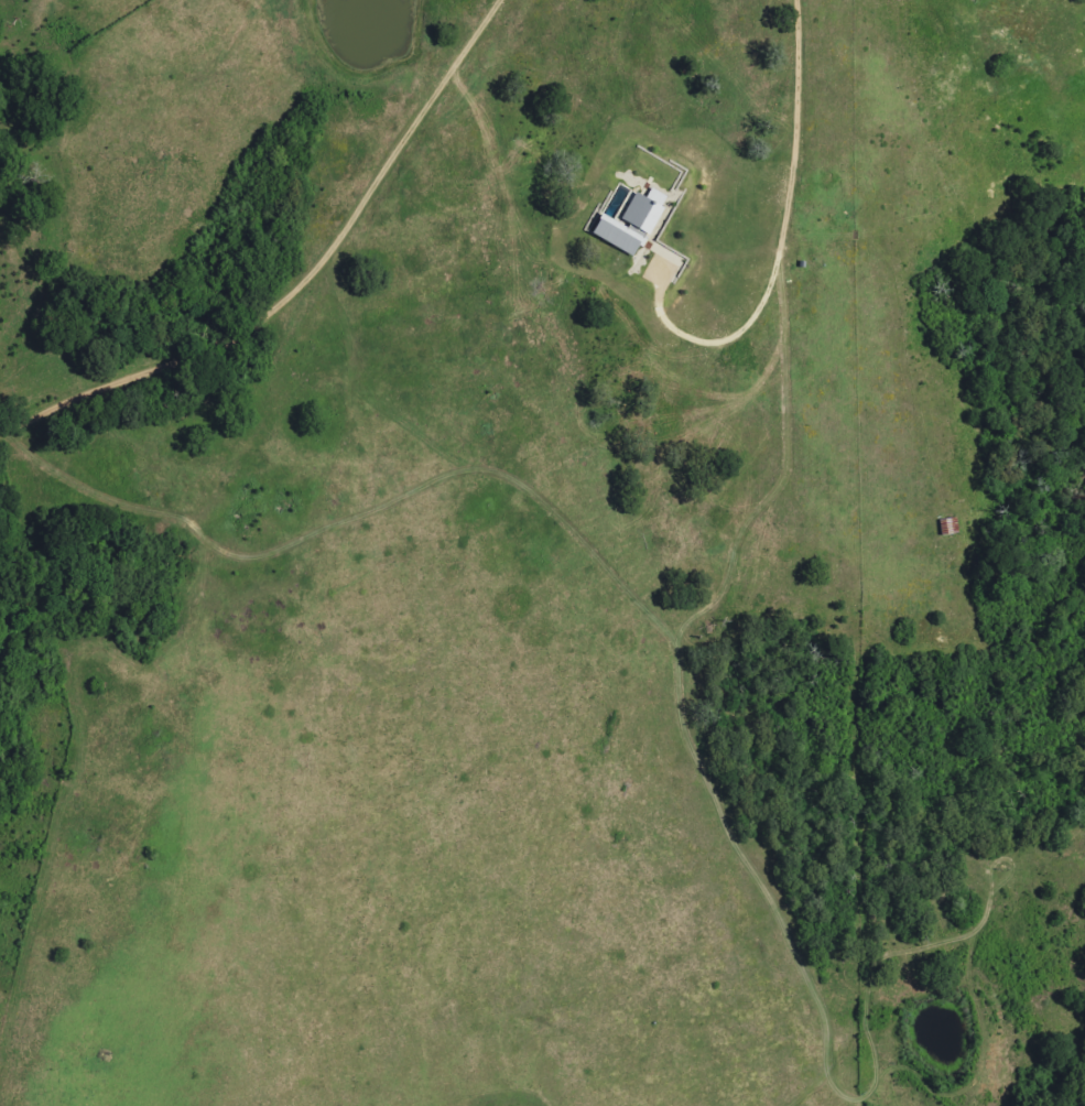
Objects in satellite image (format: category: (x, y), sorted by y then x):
building: (632, 220)

